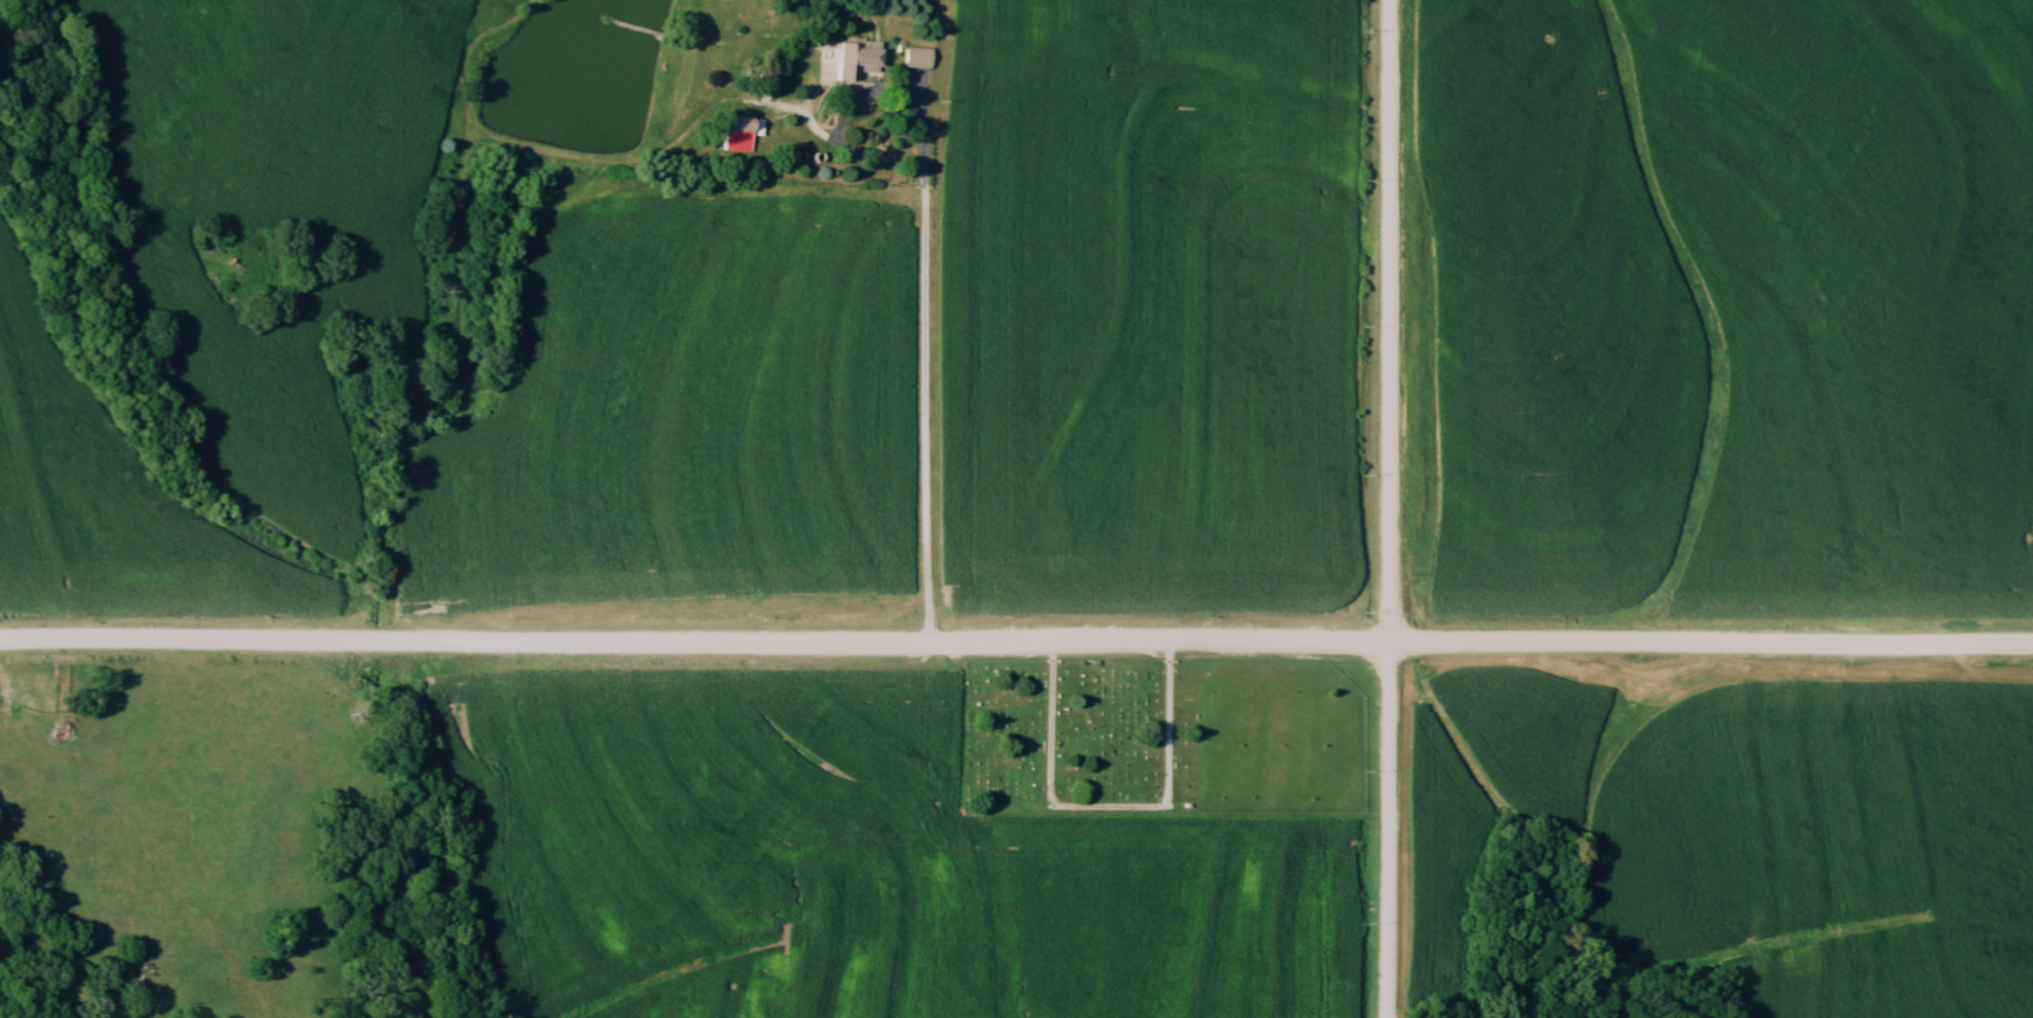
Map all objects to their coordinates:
road: (1390, 23)
building: (853, 57)
building: (919, 57)
road: (925, 269)
road: (1389, 532)
road: (1016, 646)

